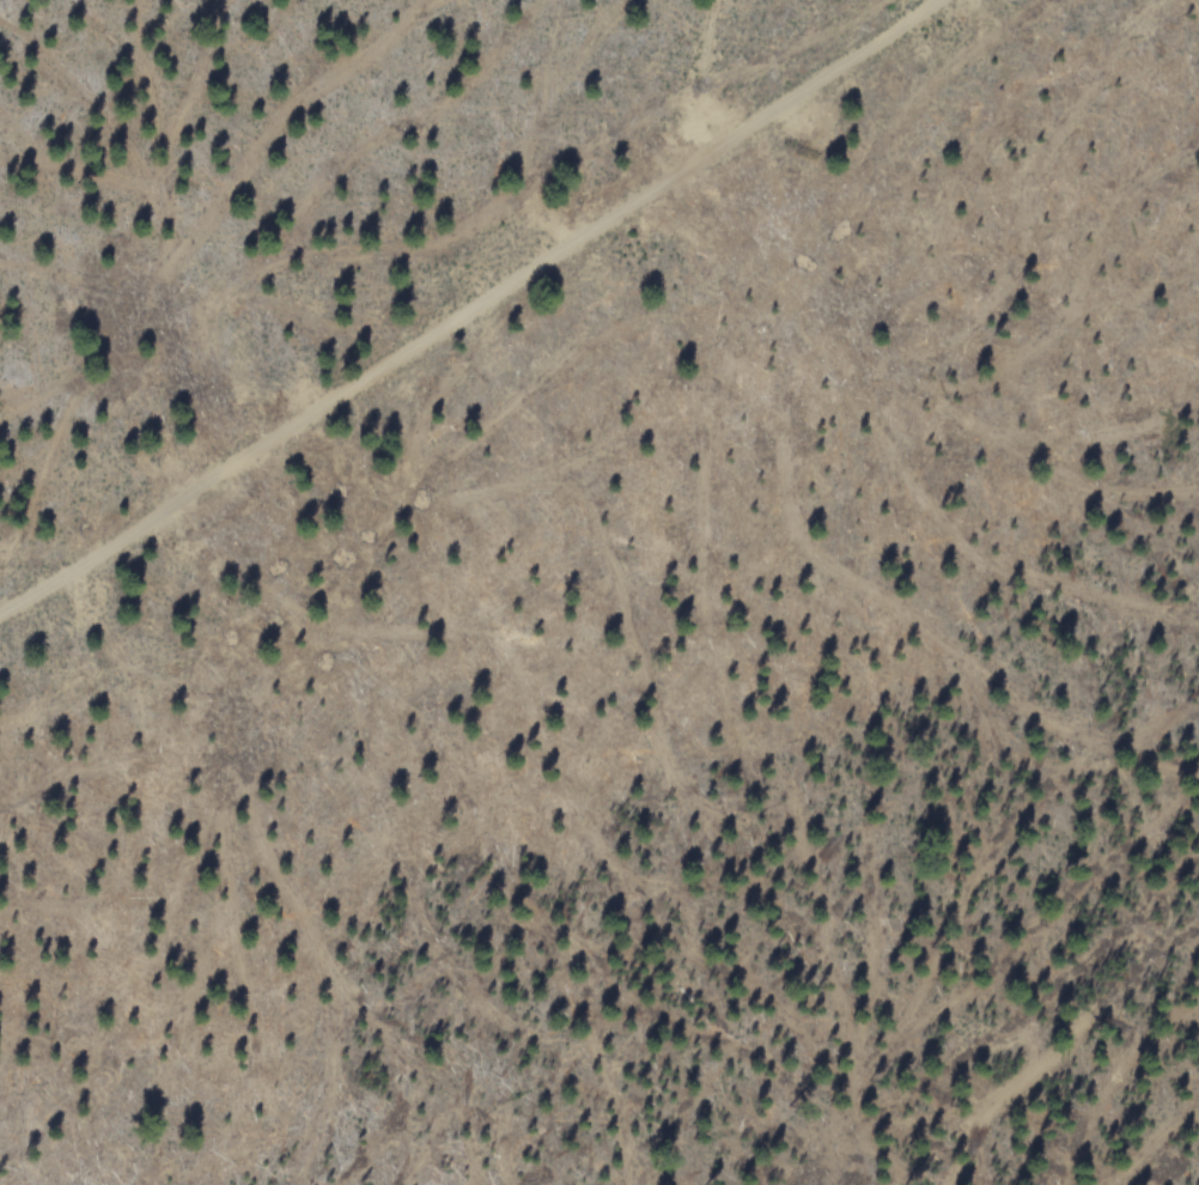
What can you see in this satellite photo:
road: (699, 83)
road: (465, 312)

